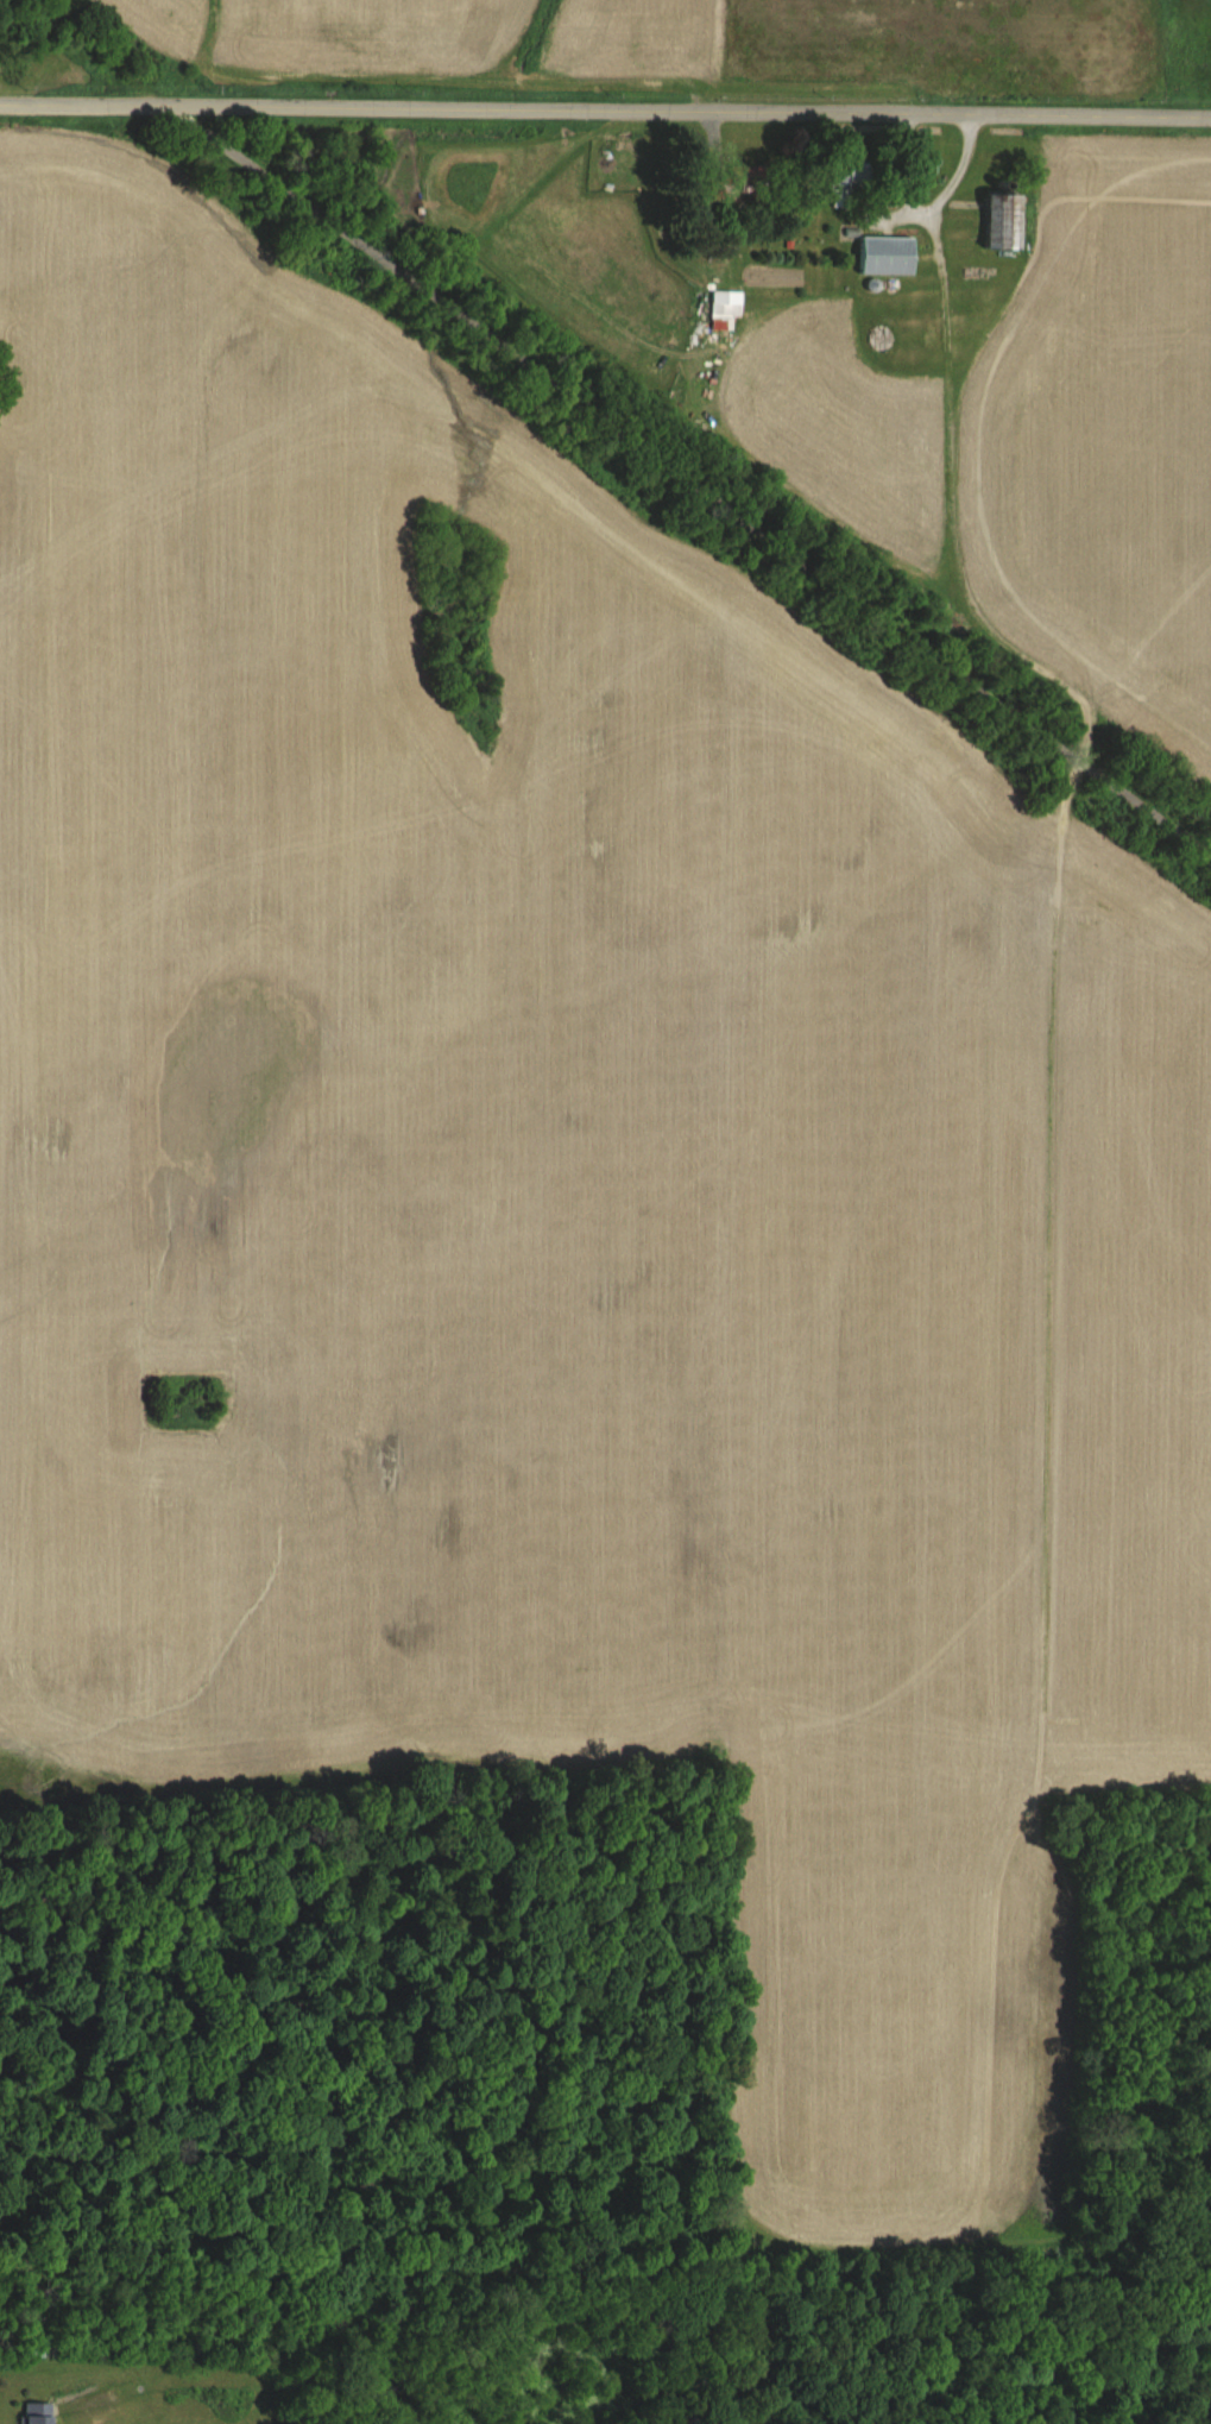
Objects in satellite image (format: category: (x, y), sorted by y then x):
road: (605, 109)
building: (844, 180)
building: (731, 181)
road: (928, 203)
building: (994, 222)
building: (879, 254)
road: (700, 460)
building: (30, 2412)

